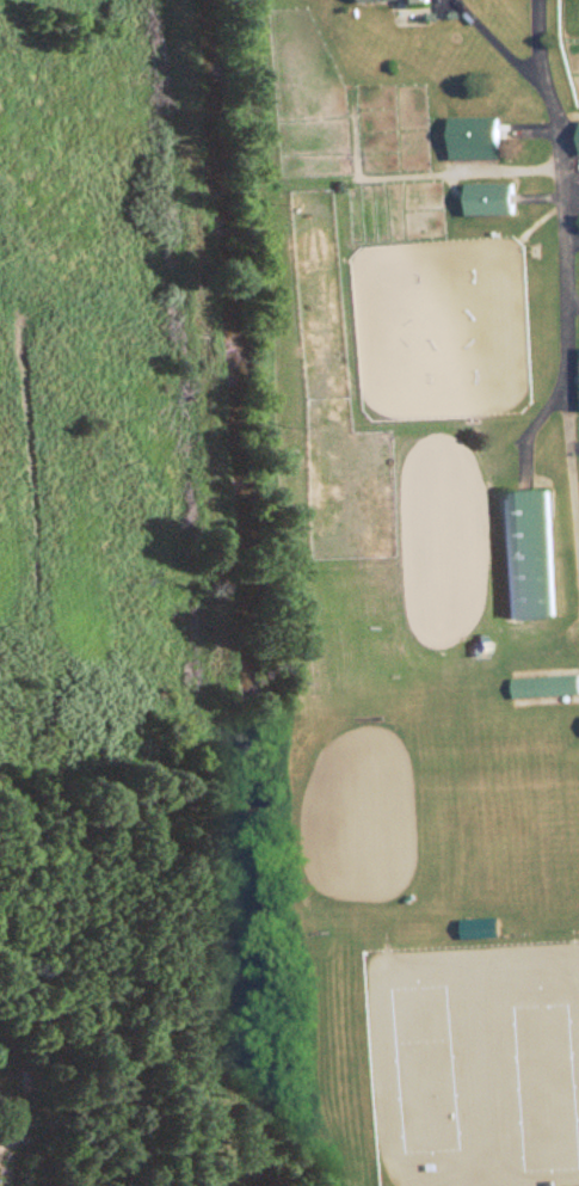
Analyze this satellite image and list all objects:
building: (372, 0)
building: (419, 0)
road: (498, 44)
building: (475, 136)
road: (561, 190)
building: (491, 197)
road: (572, 460)
road: (488, 543)
building: (526, 553)
building: (546, 686)
building: (482, 927)

